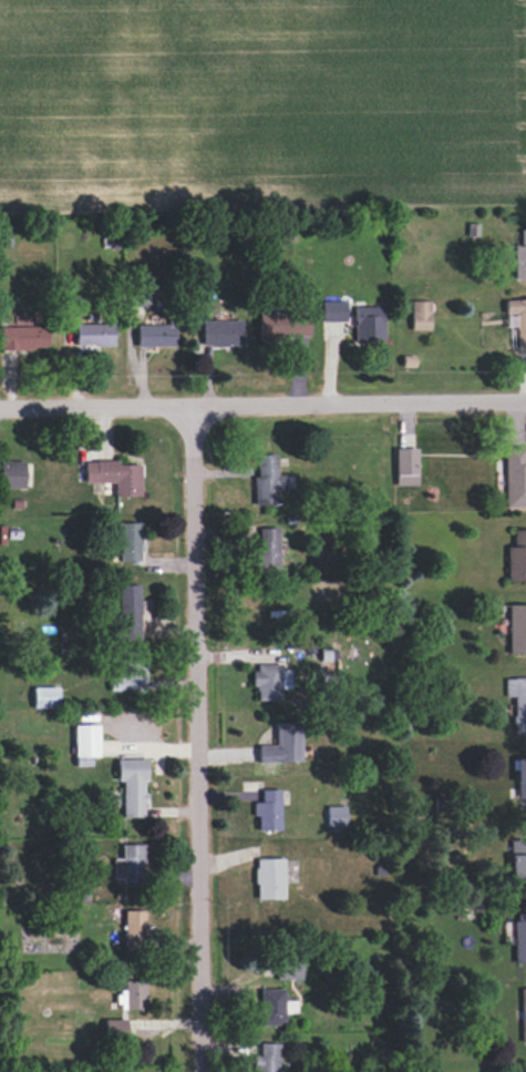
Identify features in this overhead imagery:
building: (519, 256)
building: (138, 296)
building: (333, 312)
building: (420, 315)
building: (517, 319)
building: (368, 324)
building: (282, 326)
building: (220, 333)
building: (24, 334)
building: (93, 336)
building: (154, 336)
road: (262, 405)
building: (405, 467)
building: (12, 474)
building: (114, 477)
building: (514, 477)
building: (266, 480)
building: (128, 542)
building: (267, 547)
building: (516, 558)
building: (127, 612)
building: (516, 629)
building: (128, 674)
building: (269, 681)
building: (44, 697)
building: (517, 702)
road: (197, 739)
building: (84, 744)
building: (282, 745)
building: (520, 778)
building: (132, 786)
building: (267, 810)
building: (336, 816)
building: (517, 859)
building: (128, 865)
building: (268, 878)
building: (134, 929)
building: (519, 938)
building: (288, 968)
building: (132, 996)
building: (272, 1007)
building: (523, 1014)
building: (114, 1029)
building: (266, 1059)

